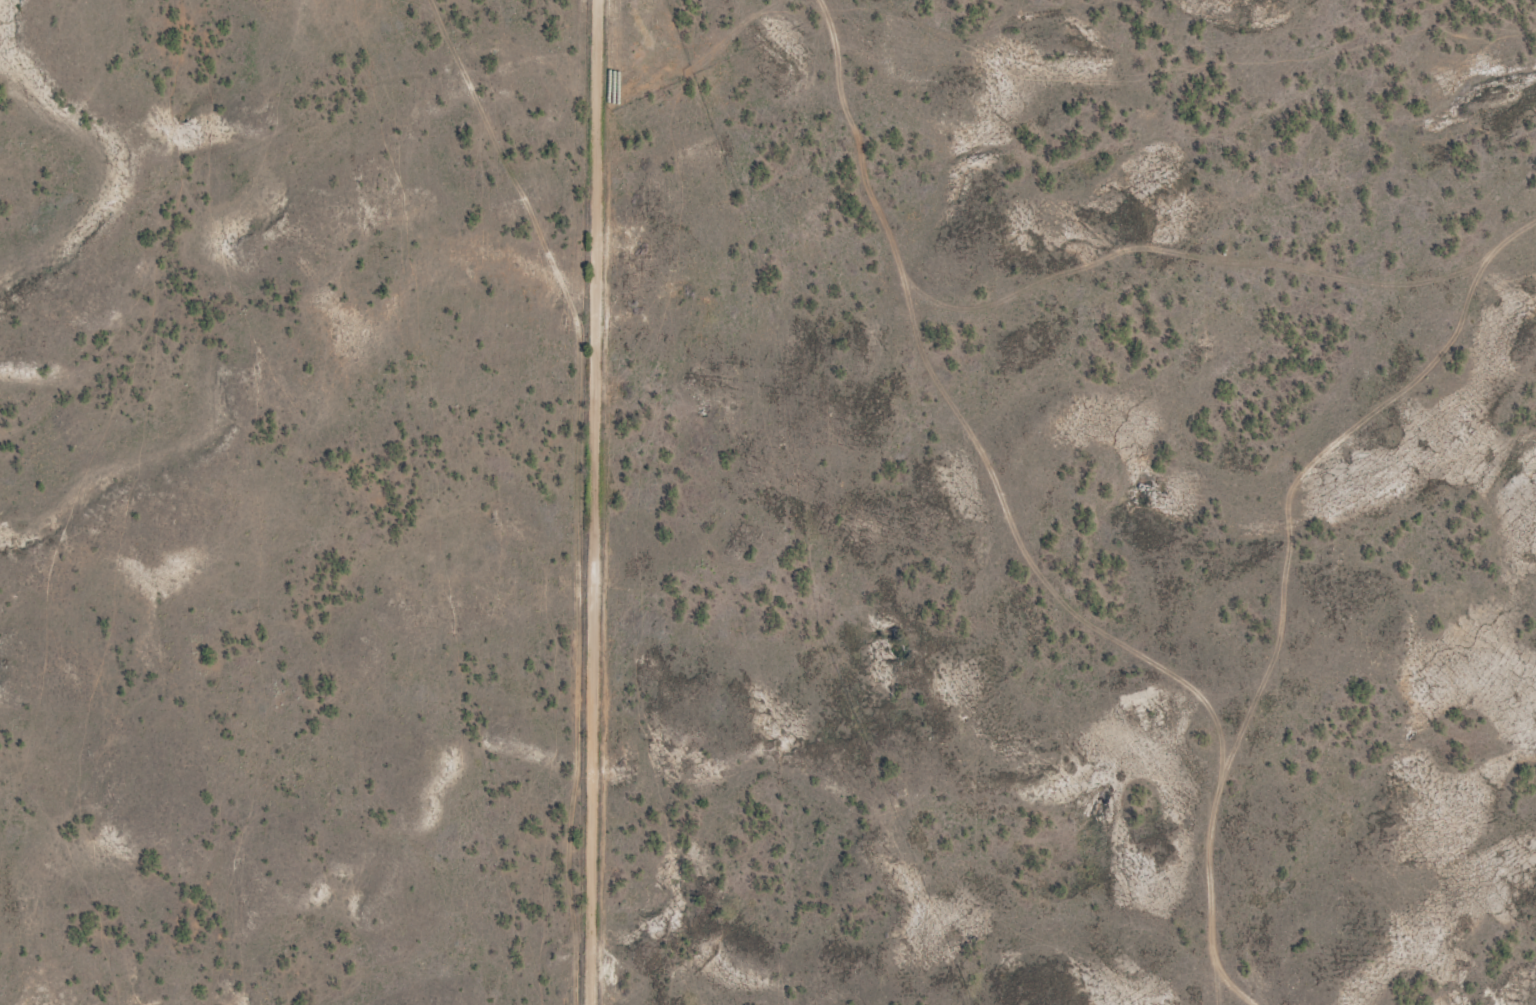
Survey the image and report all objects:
road: (297, 133)
road: (598, 502)

